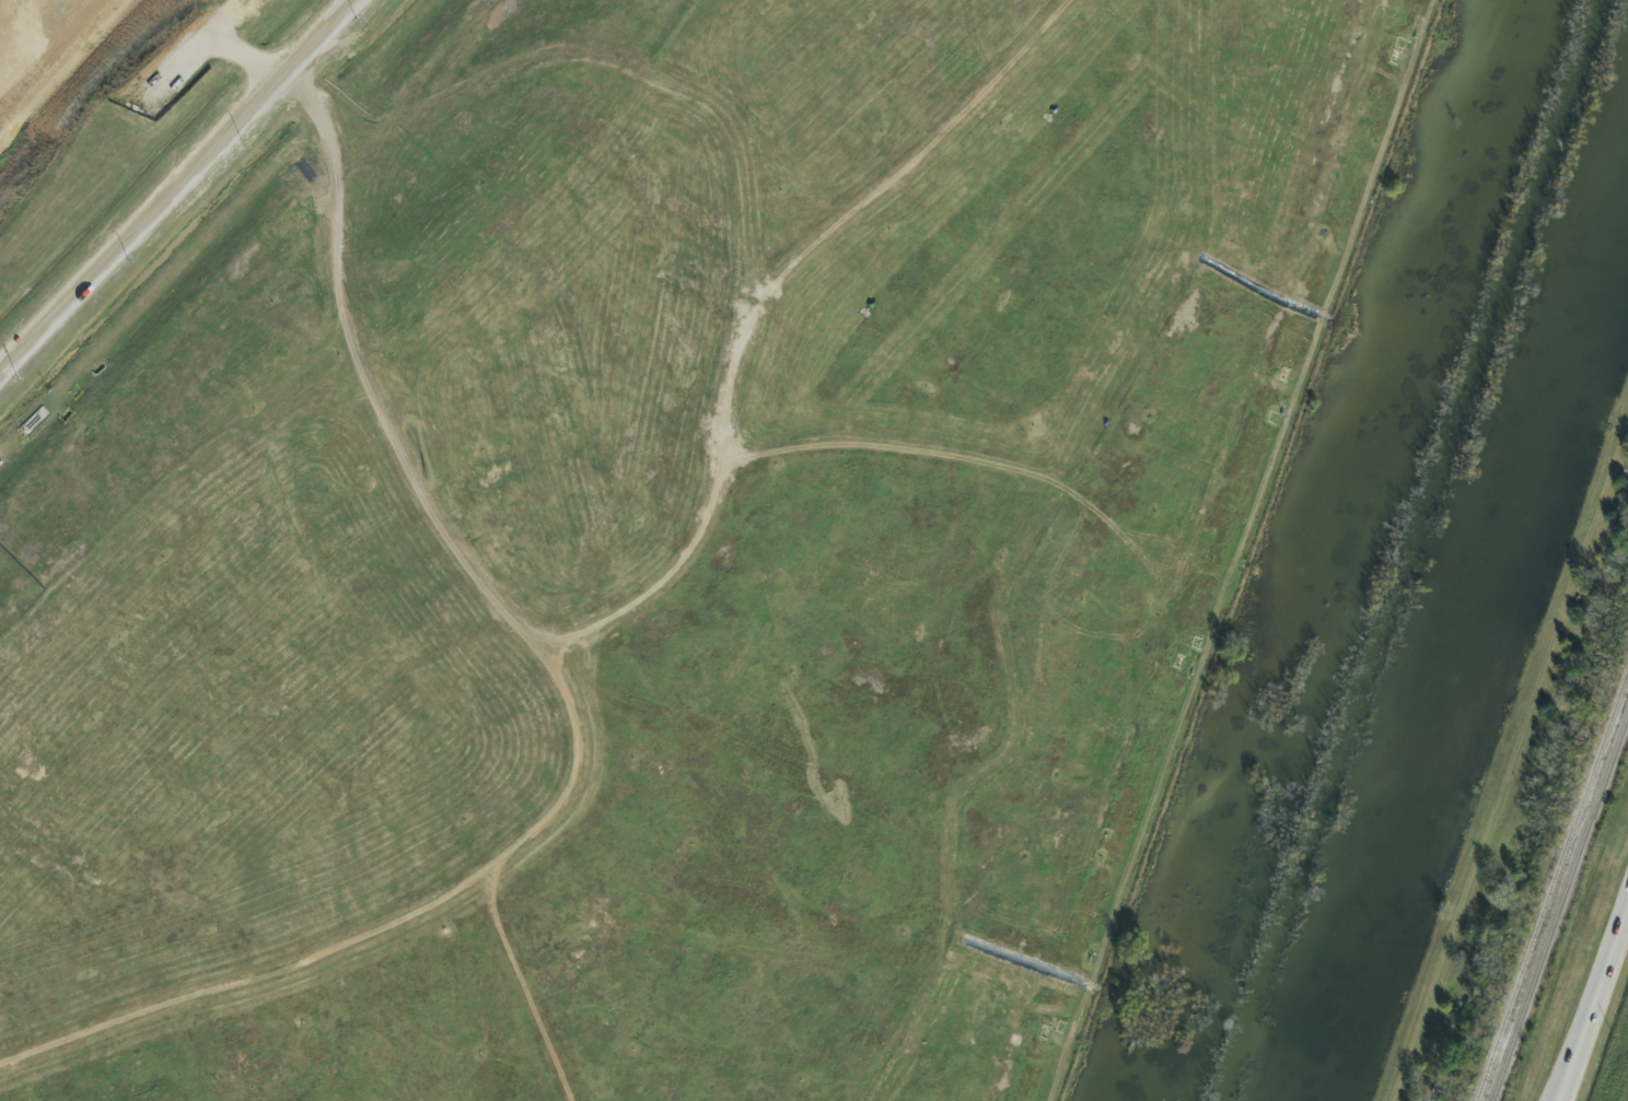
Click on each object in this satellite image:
road: (182, 194)
road: (759, 307)
landfill: (635, 523)
road: (580, 722)
railway: (1553, 887)
railway: (1560, 905)
road: (1594, 1003)

